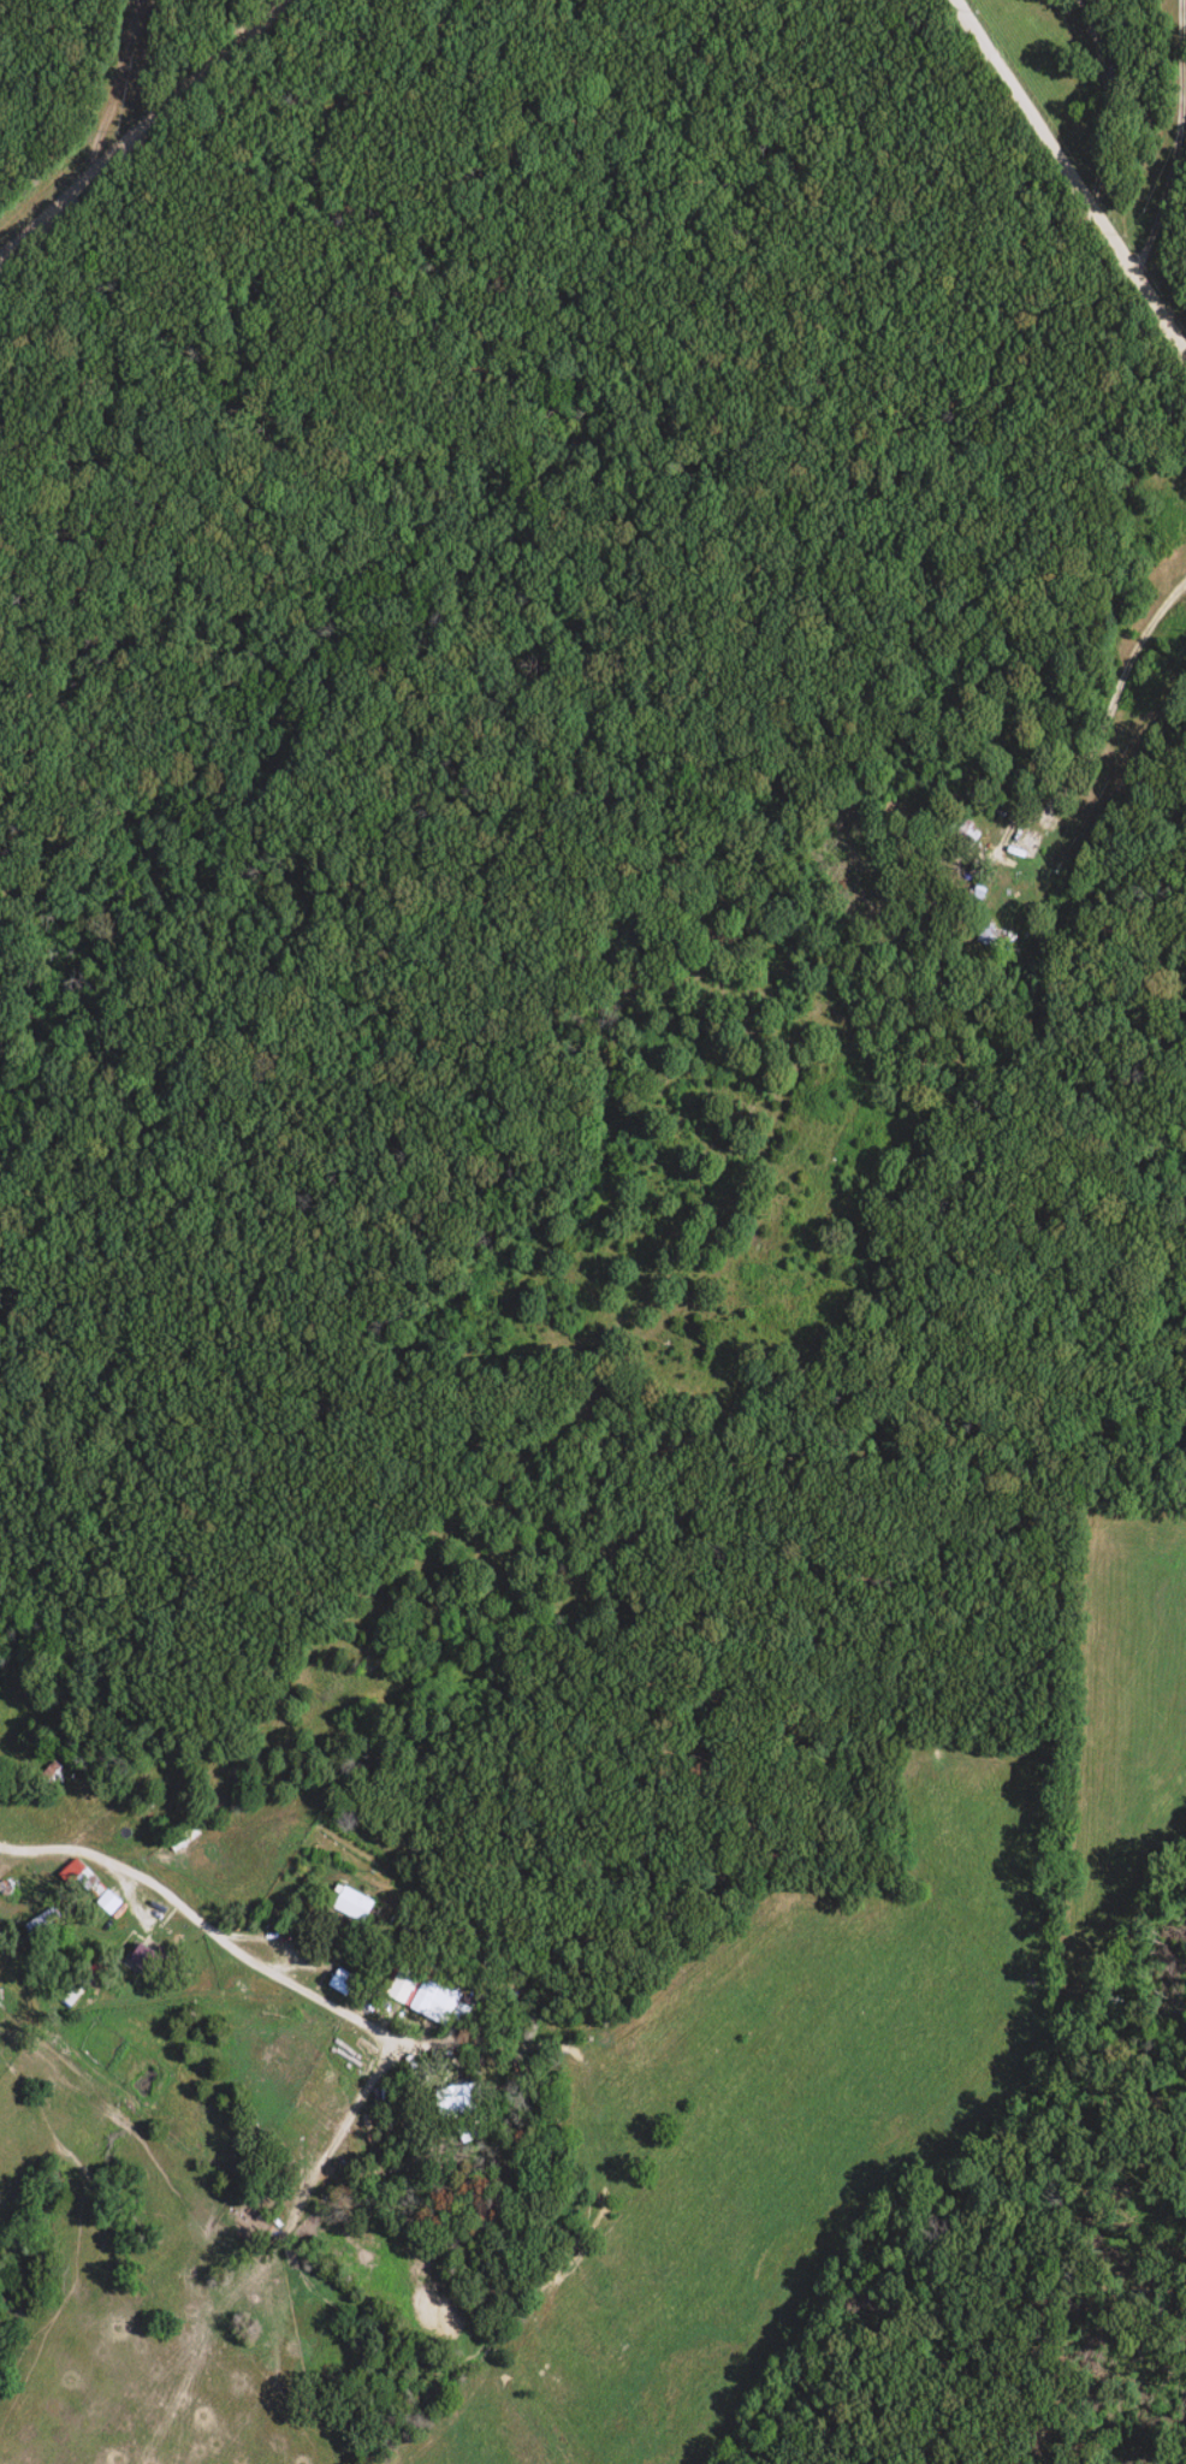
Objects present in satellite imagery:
road: (141, 134)
road: (1176, 142)
road: (1069, 179)
road: (1097, 712)
building: (967, 835)
building: (989, 940)
building: (81, 1880)
building: (354, 1906)
road: (206, 1927)
building: (149, 1961)
building: (76, 1986)
building: (459, 2101)

